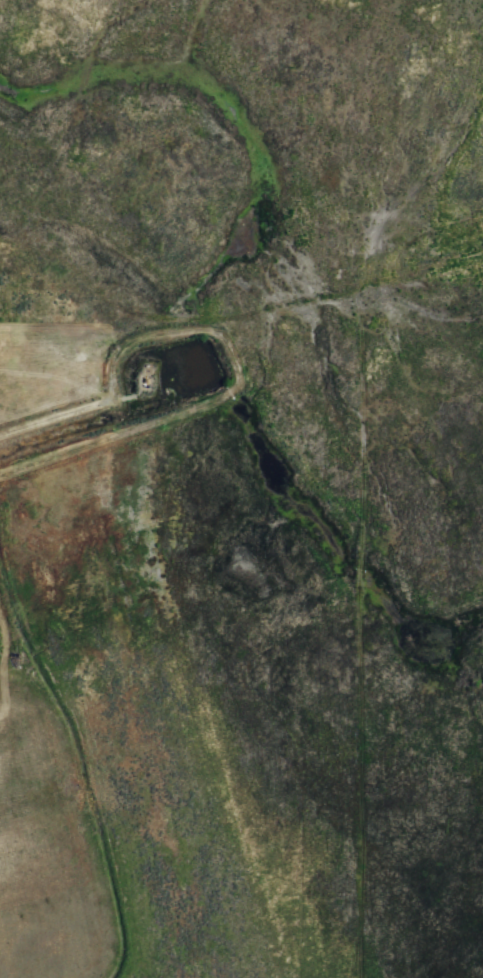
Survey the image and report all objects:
crop: (408, 653)

